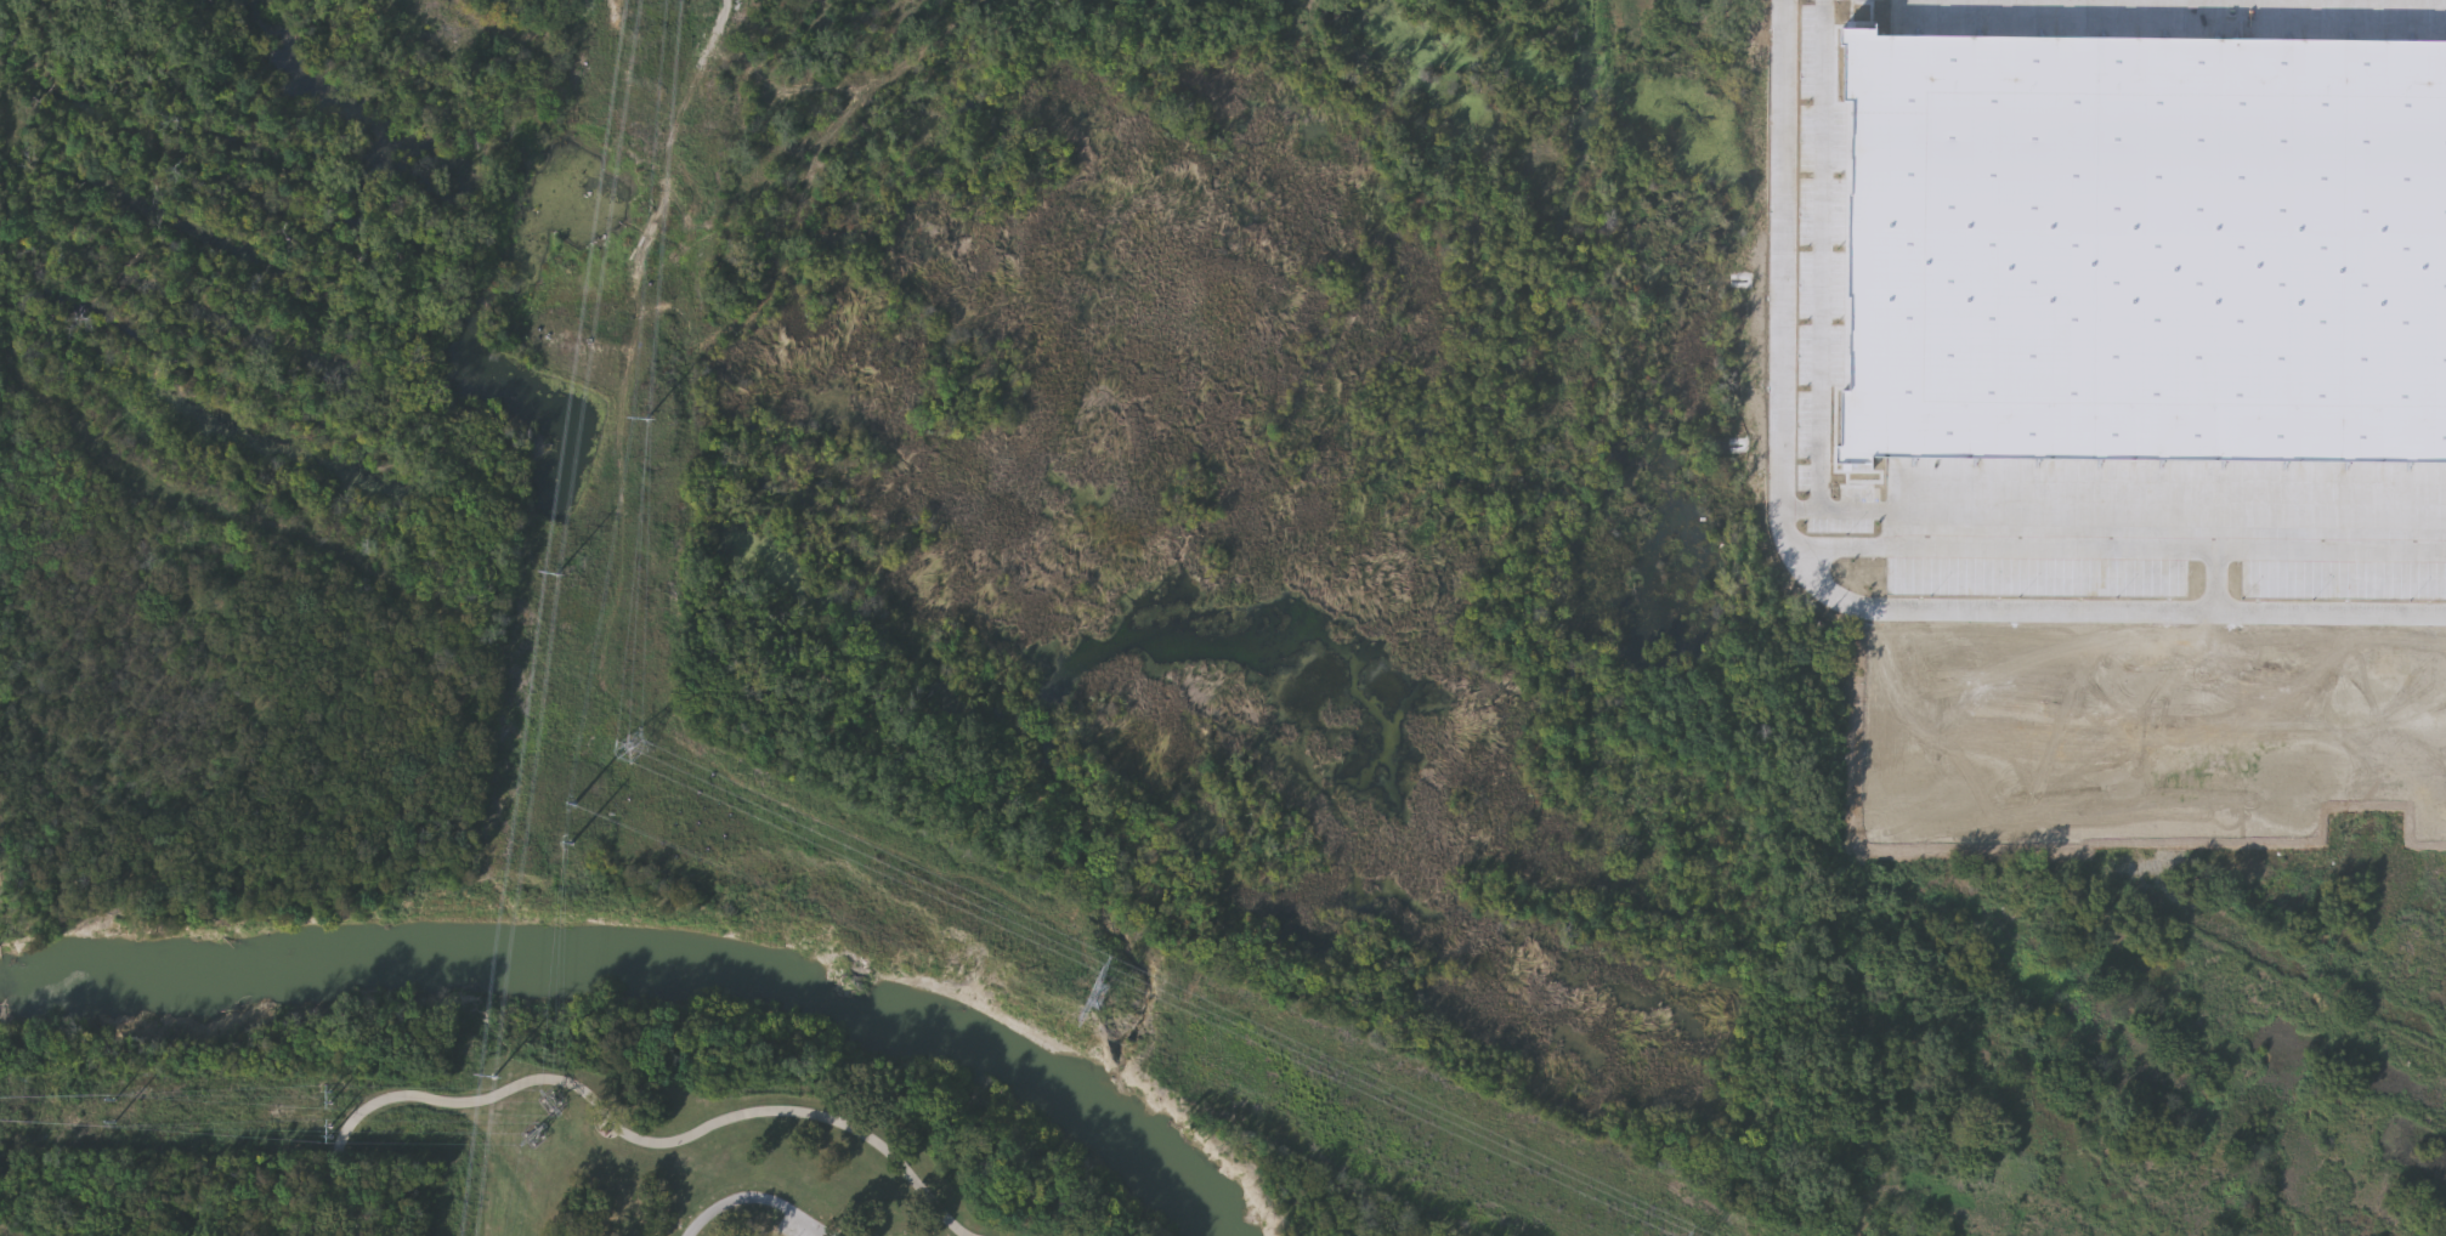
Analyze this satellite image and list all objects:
building: (1890, 23)
building: (1880, 147)
power tower: (650, 424)
power tower: (559, 573)
power tower: (604, 641)
power tower: (636, 749)
power tower: (572, 804)
river: (635, 960)
power tower: (1103, 999)
power tower: (498, 1083)
power tower: (553, 1101)
power tower: (104, 1117)
park: (511, 1124)
road: (616, 1126)
power tower: (538, 1138)
road: (758, 1202)

